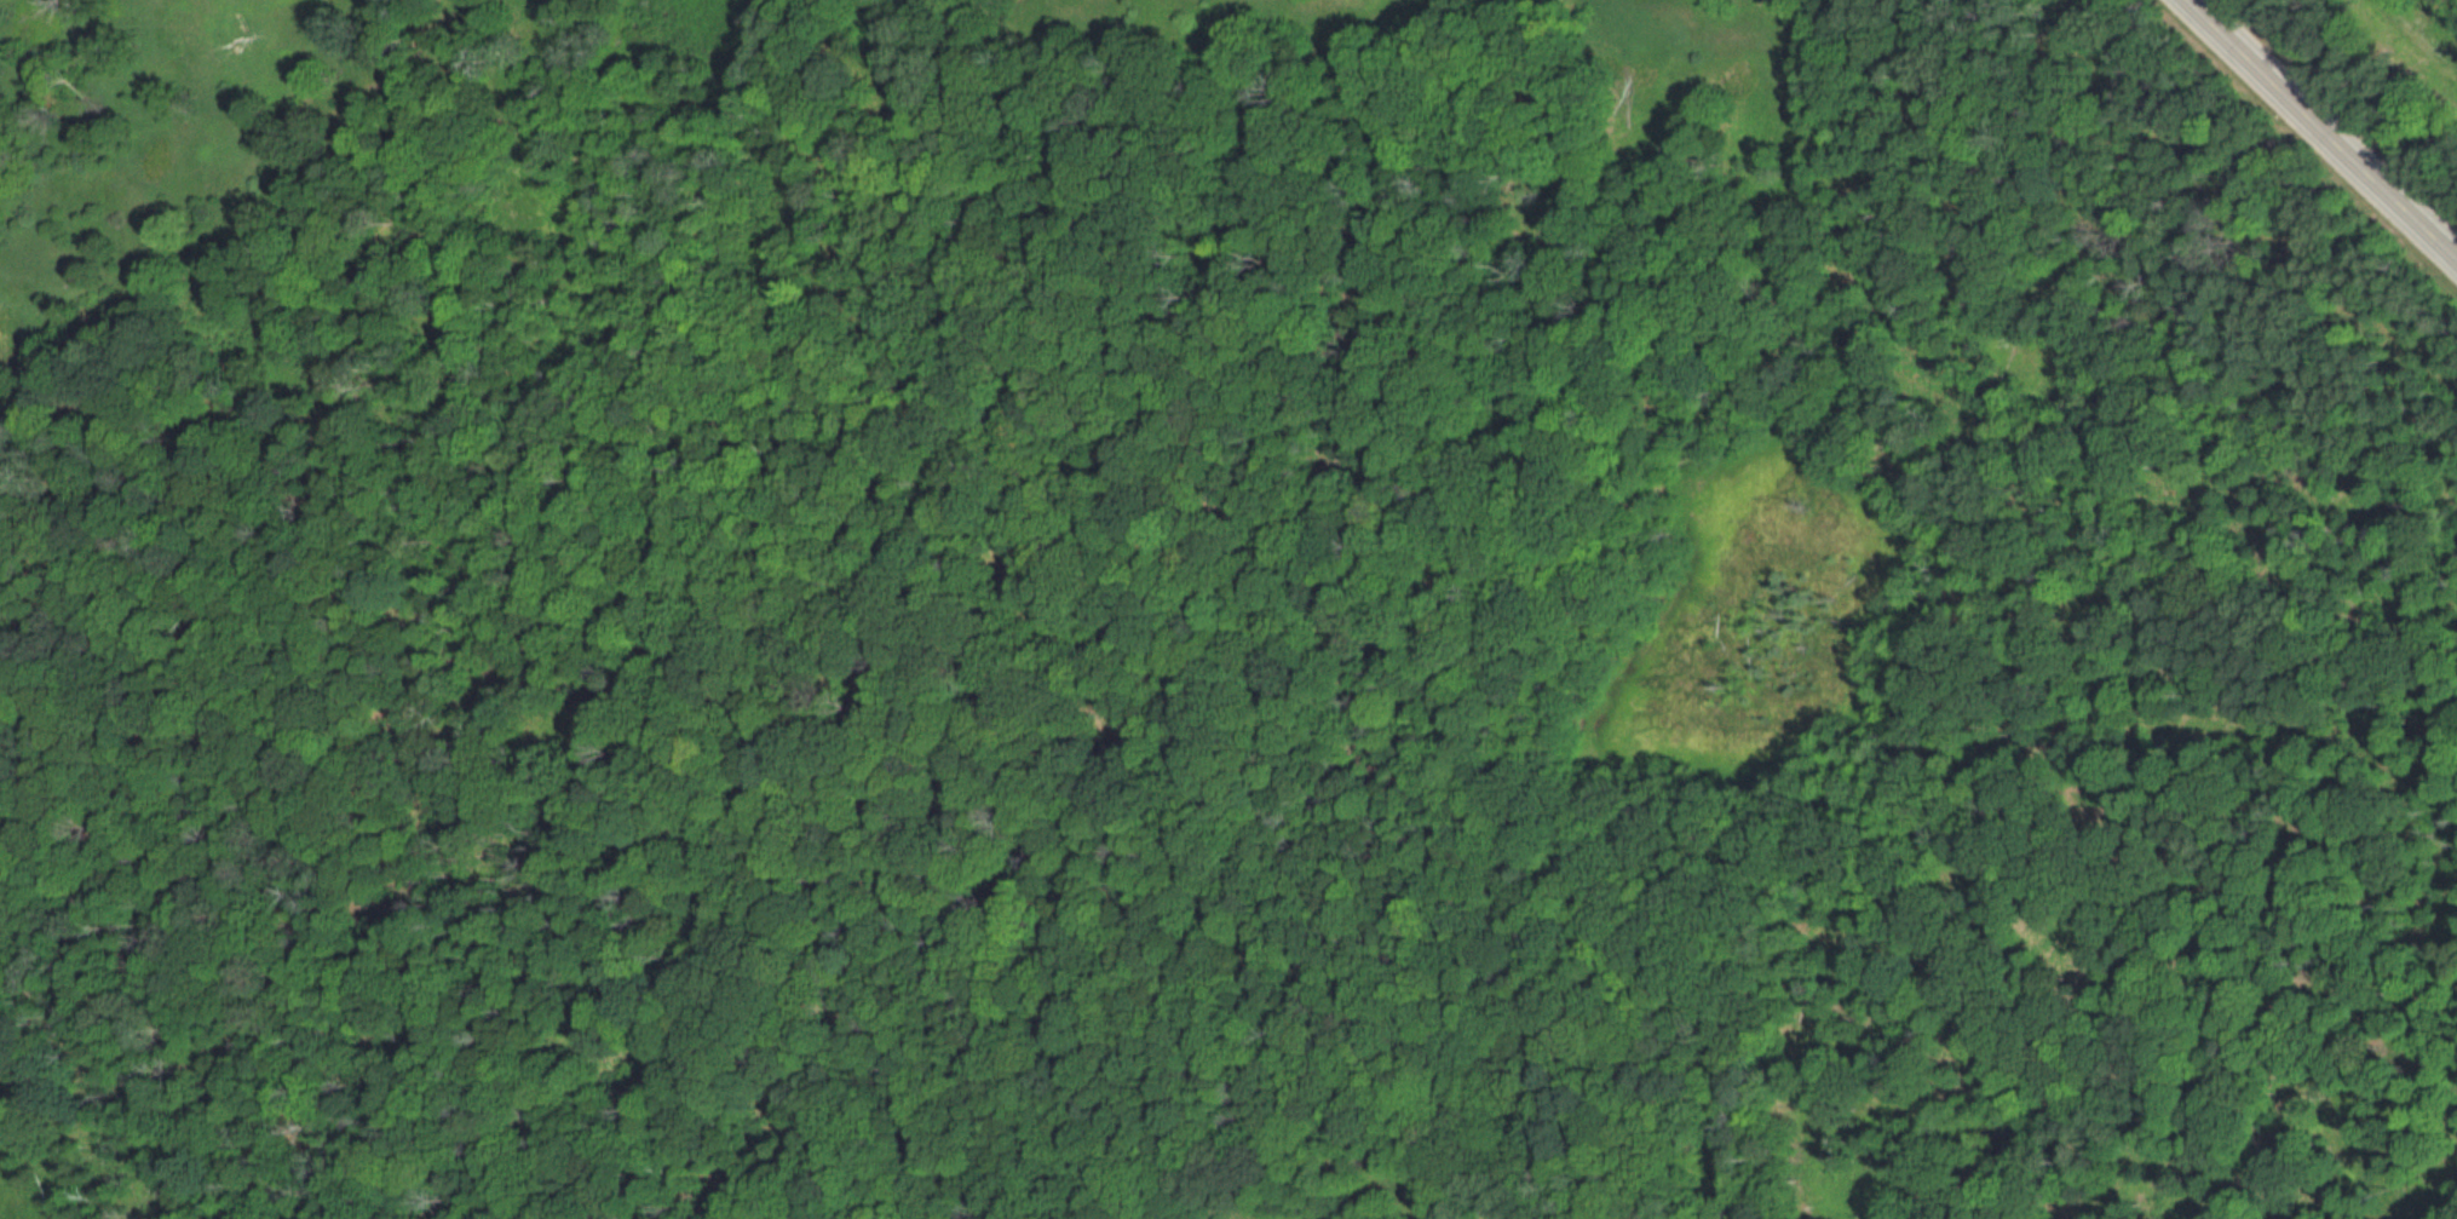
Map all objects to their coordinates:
road: (2331, 121)

